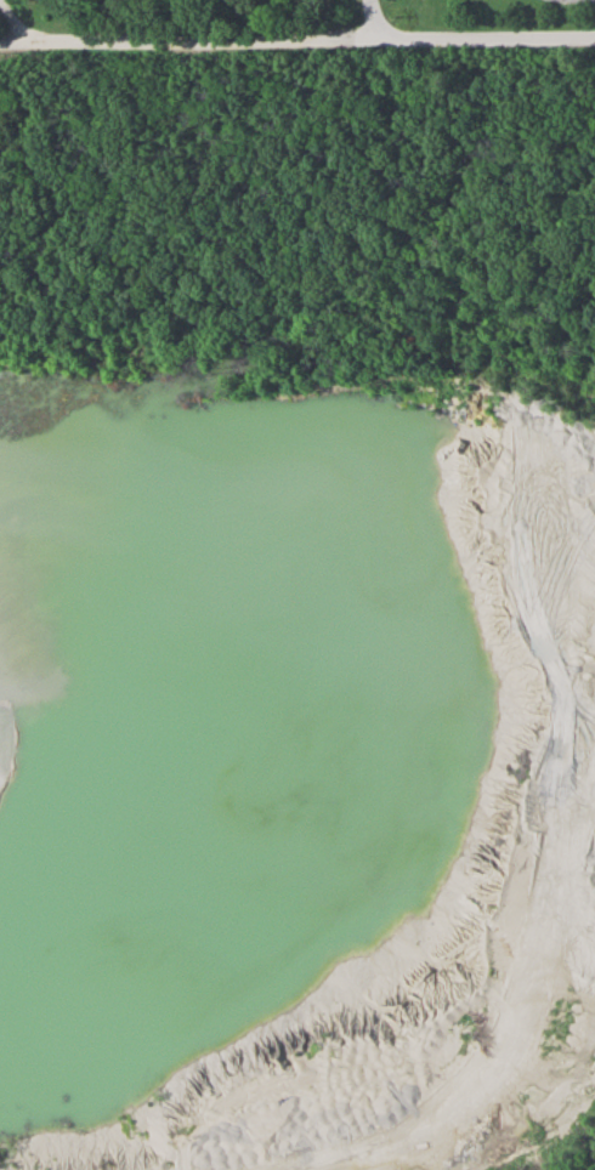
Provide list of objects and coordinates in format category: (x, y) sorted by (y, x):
road: (381, 21)
road: (24, 23)
road: (489, 39)
road: (192, 45)

